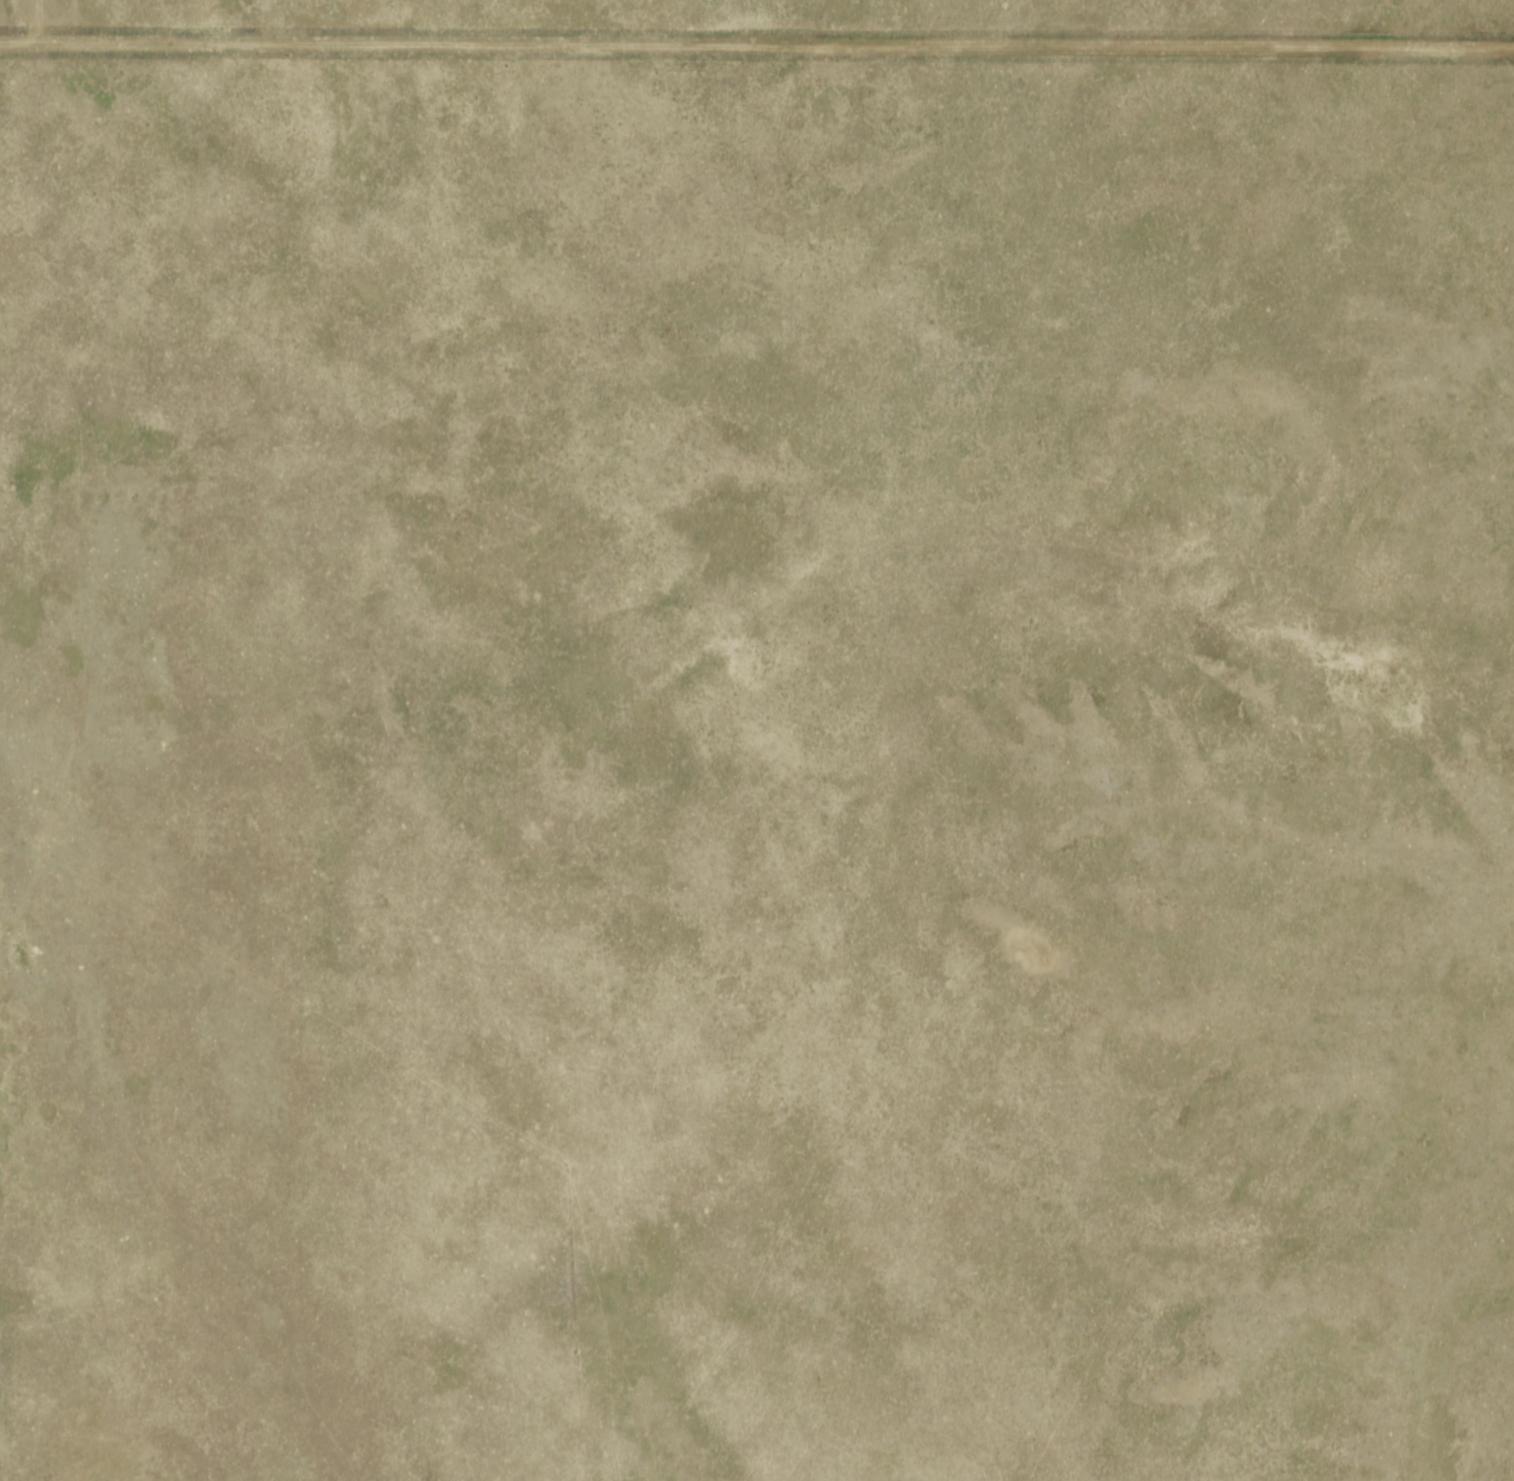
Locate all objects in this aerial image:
road: (757, 43)

